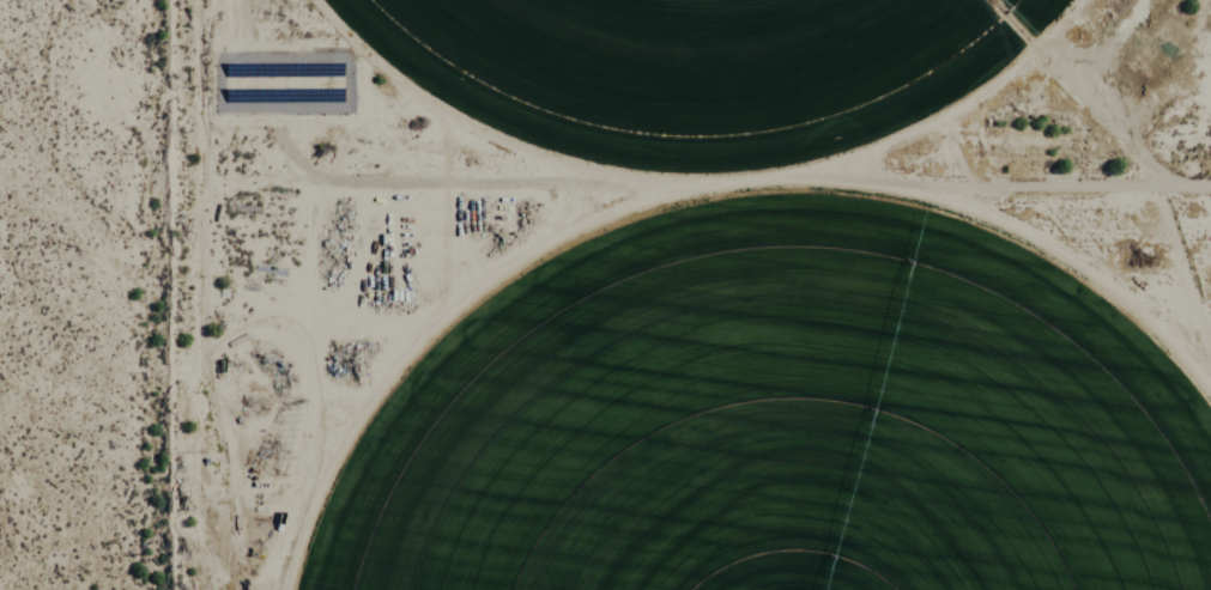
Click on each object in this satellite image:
crop: (694, 56)
building: (277, 80)
road: (193, 294)
crop: (780, 421)

